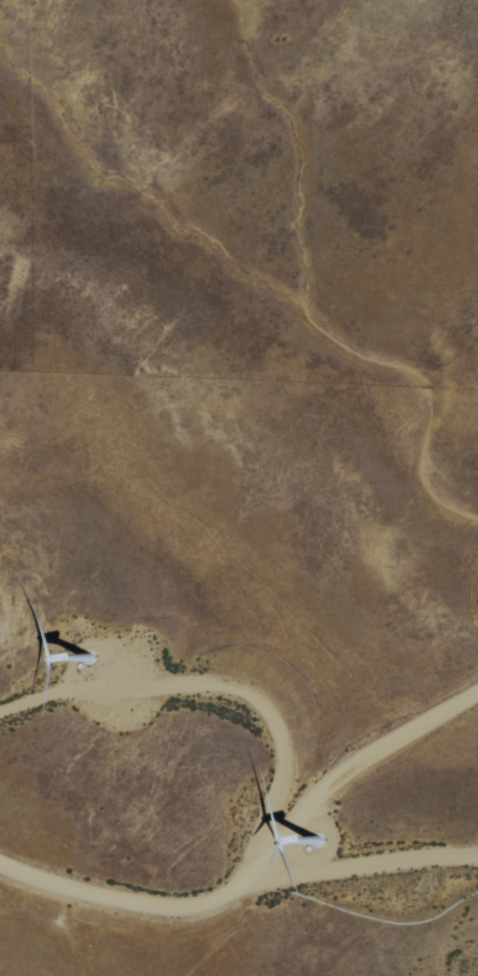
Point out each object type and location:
road: (474, 596)
wind turbine: (84, 646)
wind turbine: (325, 834)
road: (268, 867)

